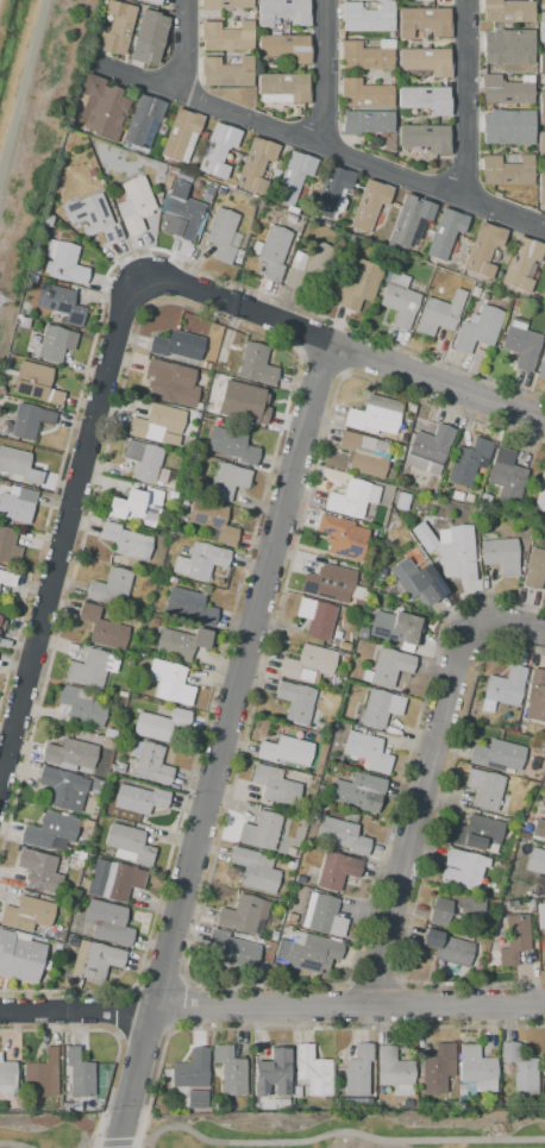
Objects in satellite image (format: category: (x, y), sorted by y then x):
building: (426, 0)
building: (154, 1)
building: (226, 4)
building: (371, 6)
building: (506, 11)
building: (283, 13)
building: (367, 17)
building: (424, 23)
building: (115, 27)
building: (541, 27)
building: (391, 34)
building: (227, 36)
building: (149, 37)
road: (182, 46)
building: (507, 46)
building: (284, 49)
building: (367, 55)
building: (425, 61)
building: (541, 63)
building: (226, 71)
road: (322, 73)
building: (406, 75)
road: (20, 87)
building: (282, 87)
building: (505, 89)
building: (363, 94)
building: (425, 99)
road: (462, 99)
building: (101, 108)
building: (541, 108)
building: (412, 111)
building: (296, 112)
building: (143, 121)
building: (367, 121)
building: (507, 126)
building: (158, 128)
building: (180, 136)
building: (425, 138)
building: (540, 143)
road: (321, 145)
building: (218, 150)
building: (256, 164)
building: (507, 169)
building: (292, 177)
building: (328, 188)
building: (541, 188)
building: (367, 202)
building: (134, 205)
building: (181, 213)
building: (93, 218)
building: (292, 219)
building: (48, 220)
building: (408, 222)
building: (427, 233)
building: (444, 233)
building: (55, 234)
building: (223, 234)
building: (49, 249)
building: (483, 249)
building: (271, 252)
building: (501, 257)
road: (118, 259)
building: (521, 263)
building: (65, 264)
building: (303, 265)
building: (46, 268)
building: (36, 270)
building: (32, 278)
building: (359, 284)
building: (24, 293)
building: (544, 294)
building: (484, 296)
building: (400, 301)
building: (59, 306)
road: (238, 306)
building: (438, 314)
building: (25, 322)
building: (477, 330)
building: (33, 340)
building: (55, 344)
building: (177, 345)
building: (521, 345)
building: (221, 355)
building: (10, 360)
building: (256, 364)
building: (206, 366)
building: (215, 369)
building: (540, 371)
road: (434, 379)
building: (170, 382)
building: (36, 383)
building: (243, 402)
building: (198, 406)
building: (195, 415)
building: (374, 416)
building: (26, 424)
building: (156, 426)
building: (232, 445)
building: (428, 448)
building: (368, 454)
building: (143, 462)
building: (468, 462)
building: (18, 468)
building: (505, 472)
building: (226, 479)
building: (171, 495)
building: (457, 495)
building: (540, 496)
building: (352, 498)
building: (469, 498)
building: (486, 498)
building: (182, 500)
building: (400, 501)
building: (17, 504)
building: (136, 507)
building: (212, 520)
building: (393, 523)
road: (64, 525)
building: (342, 537)
building: (525, 538)
building: (125, 541)
building: (8, 546)
building: (450, 550)
building: (500, 556)
building: (203, 564)
building: (163, 567)
building: (533, 567)
building: (416, 577)
building: (171, 579)
building: (14, 583)
building: (328, 583)
building: (111, 588)
building: (358, 594)
building: (357, 604)
building: (189, 606)
building: (317, 617)
building: (154, 621)
building: (396, 627)
building: (101, 628)
building: (181, 644)
building: (344, 658)
building: (308, 663)
building: (390, 666)
building: (89, 669)
building: (365, 676)
building: (169, 682)
building: (506, 686)
building: (535, 697)
building: (295, 702)
building: (81, 707)
building: (381, 708)
building: (159, 724)
building: (109, 734)
road: (223, 745)
building: (544, 746)
building: (367, 751)
building: (284, 752)
building: (497, 754)
building: (544, 754)
building: (69, 755)
building: (98, 763)
building: (148, 763)
building: (111, 766)
building: (119, 769)
road: (427, 776)
building: (95, 784)
building: (275, 785)
building: (63, 789)
building: (486, 789)
building: (94, 792)
building: (358, 792)
building: (138, 799)
building: (538, 814)
building: (356, 818)
building: (87, 824)
building: (284, 828)
building: (259, 830)
building: (541, 830)
building: (50, 832)
building: (476, 833)
building: (344, 836)
building: (525, 836)
building: (534, 839)
building: (127, 843)
building: (290, 852)
building: (535, 861)
building: (292, 866)
building: (255, 870)
building: (463, 870)
building: (38, 871)
building: (336, 871)
building: (299, 879)
building: (113, 880)
building: (528, 903)
building: (438, 911)
building: (26, 914)
building: (244, 914)
building: (540, 915)
building: (321, 916)
building: (290, 918)
building: (102, 922)
building: (38, 930)
building: (272, 935)
building: (431, 937)
building: (512, 937)
building: (71, 942)
building: (57, 946)
building: (236, 948)
building: (544, 949)
building: (306, 951)
building: (56, 952)
building: (455, 952)
building: (19, 956)
building: (94, 960)
building: (44, 965)
building: (228, 970)
building: (43, 978)
road: (350, 1005)
road: (77, 1009)
road: (82, 1030)
building: (543, 1067)
building: (438, 1068)
building: (476, 1068)
building: (192, 1069)
building: (230, 1069)
building: (520, 1069)
building: (395, 1071)
building: (312, 1072)
building: (353, 1072)
building: (42, 1074)
building: (271, 1074)
building: (8, 1077)
building: (82, 1081)
building: (461, 1090)
building: (470, 1090)
building: (296, 1092)
building: (196, 1099)
building: (281, 1102)
building: (356, 1102)
building: (446, 1104)
building: (288, 1108)
park: (347, 1129)
park: (45, 1130)
road: (306, 1140)
road: (13, 1143)

